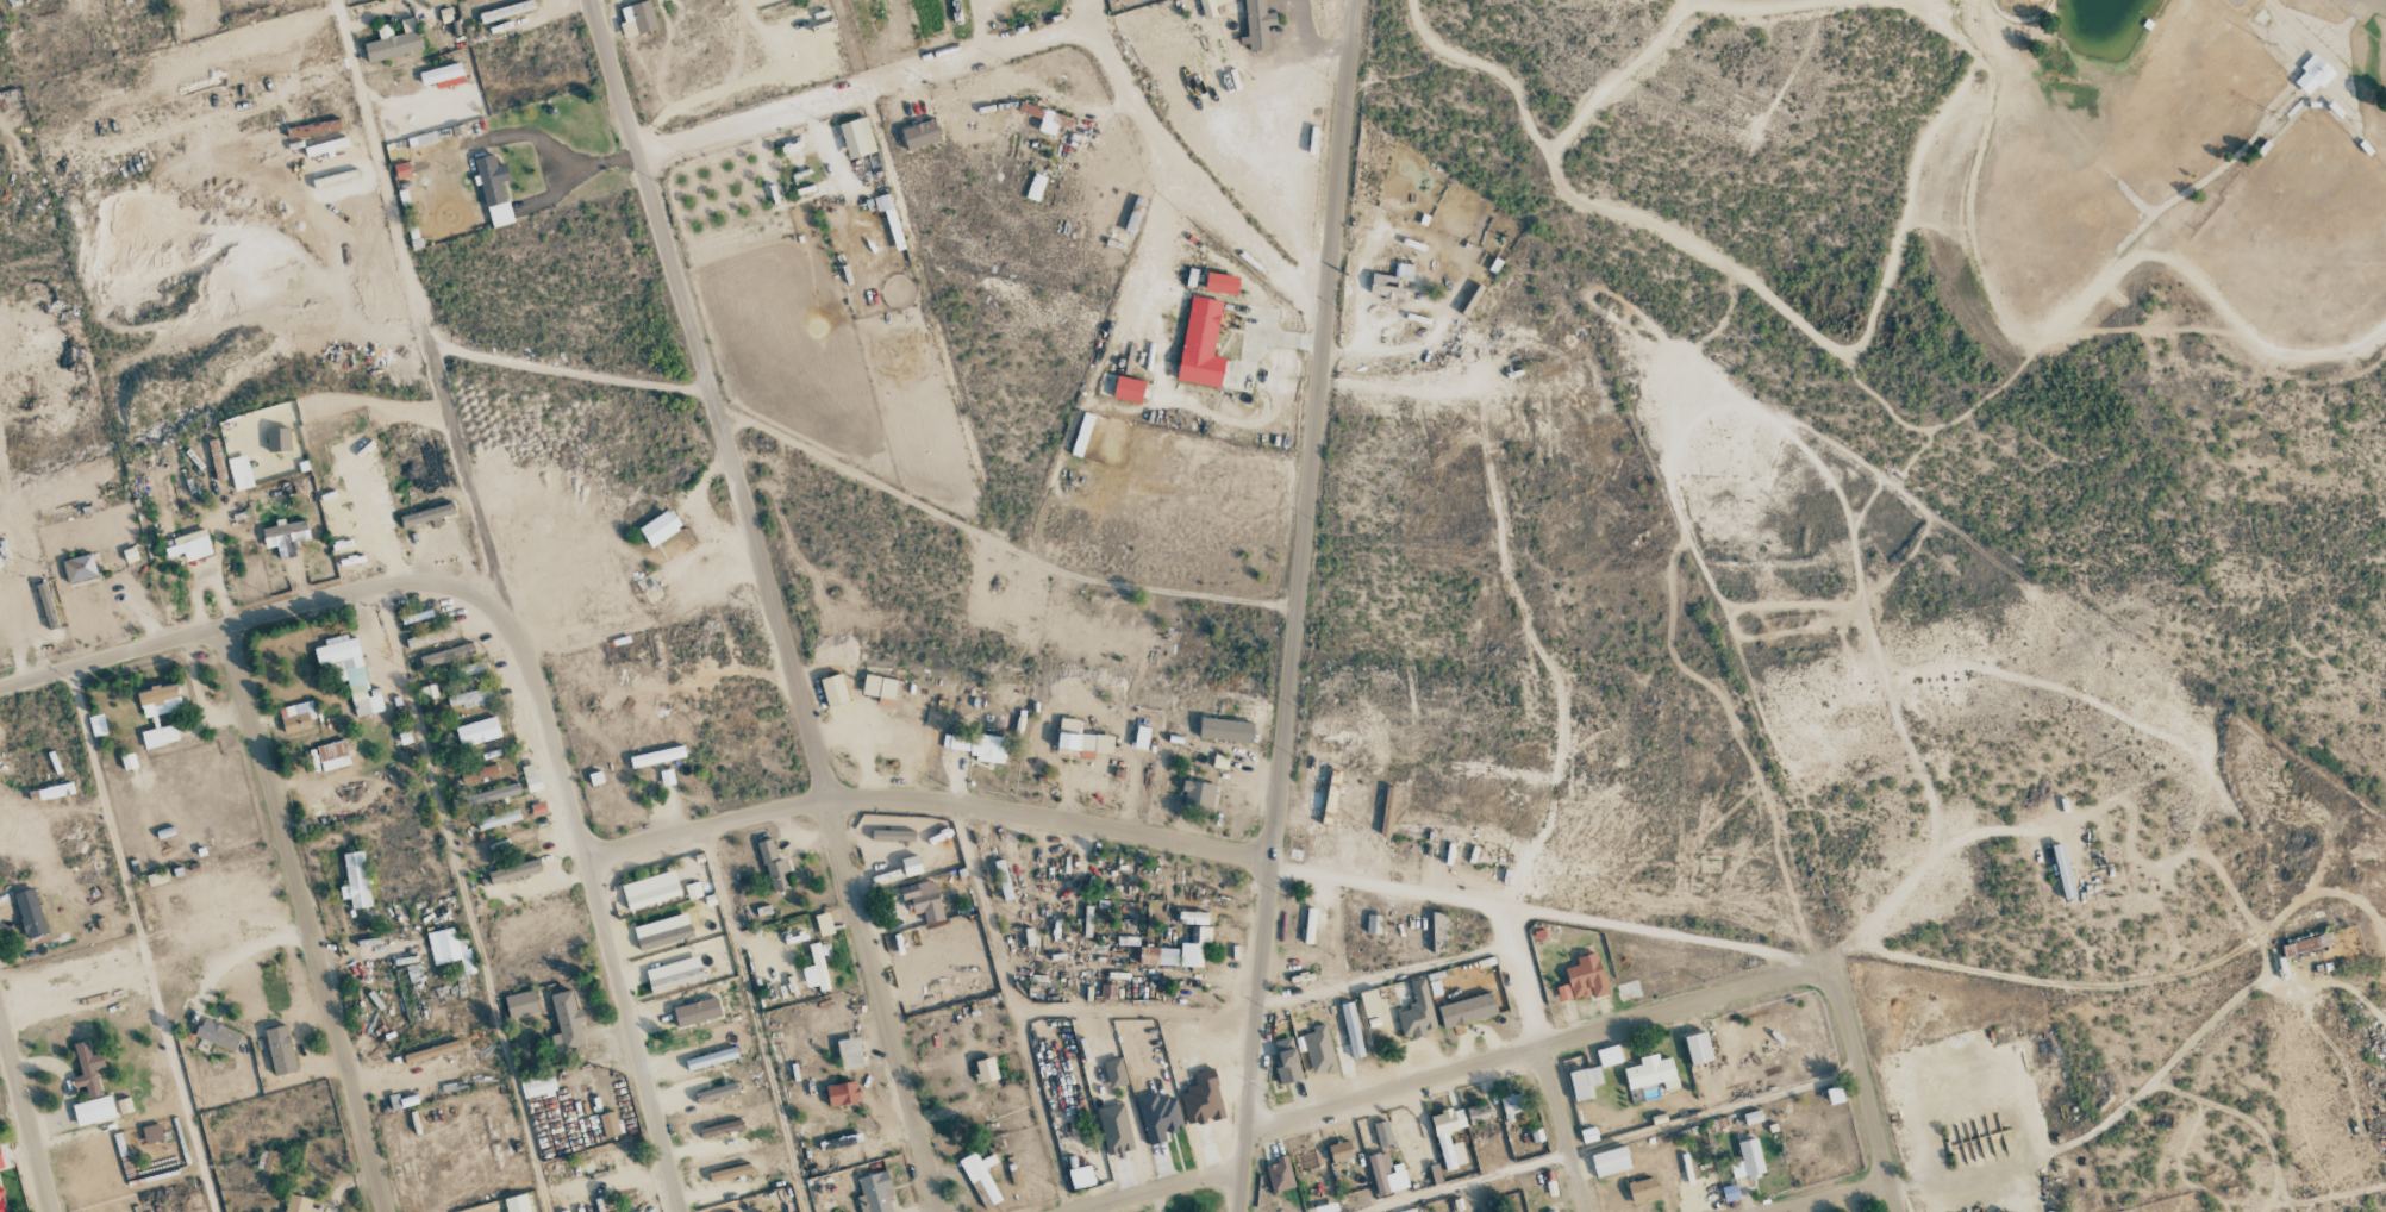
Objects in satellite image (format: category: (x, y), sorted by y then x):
road: (2380, 2)
parking lot: (2361, 10)
building: (506, 11)
road: (1766, 12)
building: (637, 19)
road: (1944, 23)
building: (1257, 24)
building: (393, 42)
building: (2312, 73)
building: (443, 76)
road: (1619, 79)
road: (860, 83)
building: (1051, 121)
building: (313, 129)
building: (920, 135)
building: (856, 138)
building: (326, 146)
road: (1182, 168)
building: (1035, 187)
building: (494, 190)
park: (2307, 195)
building: (888, 215)
river: (1881, 269)
road: (1739, 275)
park: (1998, 279)
building: (1391, 282)
building: (1220, 283)
road: (419, 310)
road: (2073, 311)
building: (1200, 344)
building: (1128, 389)
road: (1938, 426)
building: (1081, 435)
building: (277, 439)
building: (426, 514)
building: (660, 527)
building: (285, 536)
building: (188, 545)
building: (0, 563)
building: (79, 568)
road: (769, 604)
building: (46, 605)
road: (1294, 605)
road: (254, 616)
building: (429, 637)
building: (446, 655)
building: (464, 670)
building: (348, 671)
building: (880, 688)
building: (833, 689)
building: (469, 696)
building: (158, 700)
building: (296, 718)
building: (1225, 730)
building: (477, 731)
building: (160, 735)
building: (1080, 739)
building: (977, 746)
building: (329, 756)
building: (656, 756)
building: (479, 773)
building: (531, 777)
building: (52, 792)
building: (492, 794)
building: (1198, 794)
building: (498, 819)
building: (892, 835)
building: (911, 866)
building: (773, 867)
building: (514, 871)
building: (355, 880)
building: (1003, 880)
building: (692, 891)
building: (652, 896)
road: (464, 899)
building: (923, 900)
road: (1487, 906)
road: (602, 912)
building: (30, 913)
road: (306, 918)
building: (823, 924)
building: (1373, 924)
building: (1204, 933)
building: (663, 937)
road: (139, 939)
building: (2306, 944)
building: (450, 949)
building: (1157, 956)
building: (817, 968)
building: (674, 974)
building: (1584, 979)
road: (1525, 980)
building: (1369, 1002)
building: (520, 1004)
building: (1467, 1011)
building: (697, 1012)
building: (1417, 1012)
building: (567, 1022)
building: (1351, 1030)
building: (218, 1035)
building: (1698, 1048)
building: (280, 1050)
building: (1319, 1050)
road: (1536, 1050)
building: (431, 1051)
building: (1172, 1051)
building: (849, 1052)
building: (1609, 1056)
building: (711, 1058)
building: (1287, 1061)
building: (87, 1069)
building: (986, 1070)
building: (1651, 1073)
building: (1584, 1082)
building: (537, 1083)
road: (1862, 1089)
building: (716, 1093)
building: (842, 1094)
building: (1511, 1107)
building: (93, 1111)
building: (1478, 1114)
road: (25, 1116)
building: (1753, 1117)
building: (1158, 1118)
building: (608, 1124)
building: (719, 1129)
building: (1114, 1129)
road: (1564, 1130)
building: (152, 1133)
building: (1382, 1133)
building: (1442, 1137)
building: (1339, 1151)
building: (5, 1154)
building: (1748, 1160)
building: (267, 1162)
building: (1610, 1162)
building: (0, 1166)
building: (729, 1173)
building: (1387, 1174)
building: (1280, 1175)
building: (1080, 1176)
building: (981, 1177)
building: (1642, 1189)
road: (1161, 1191)
building: (874, 1193)
building: (1730, 1193)
road: (1834, 1197)
building: (298, 1204)
building: (517, 1204)
building: (1, 1205)
building: (279, 1211)
building: (1409, 1211)
building: (1561, 1211)

